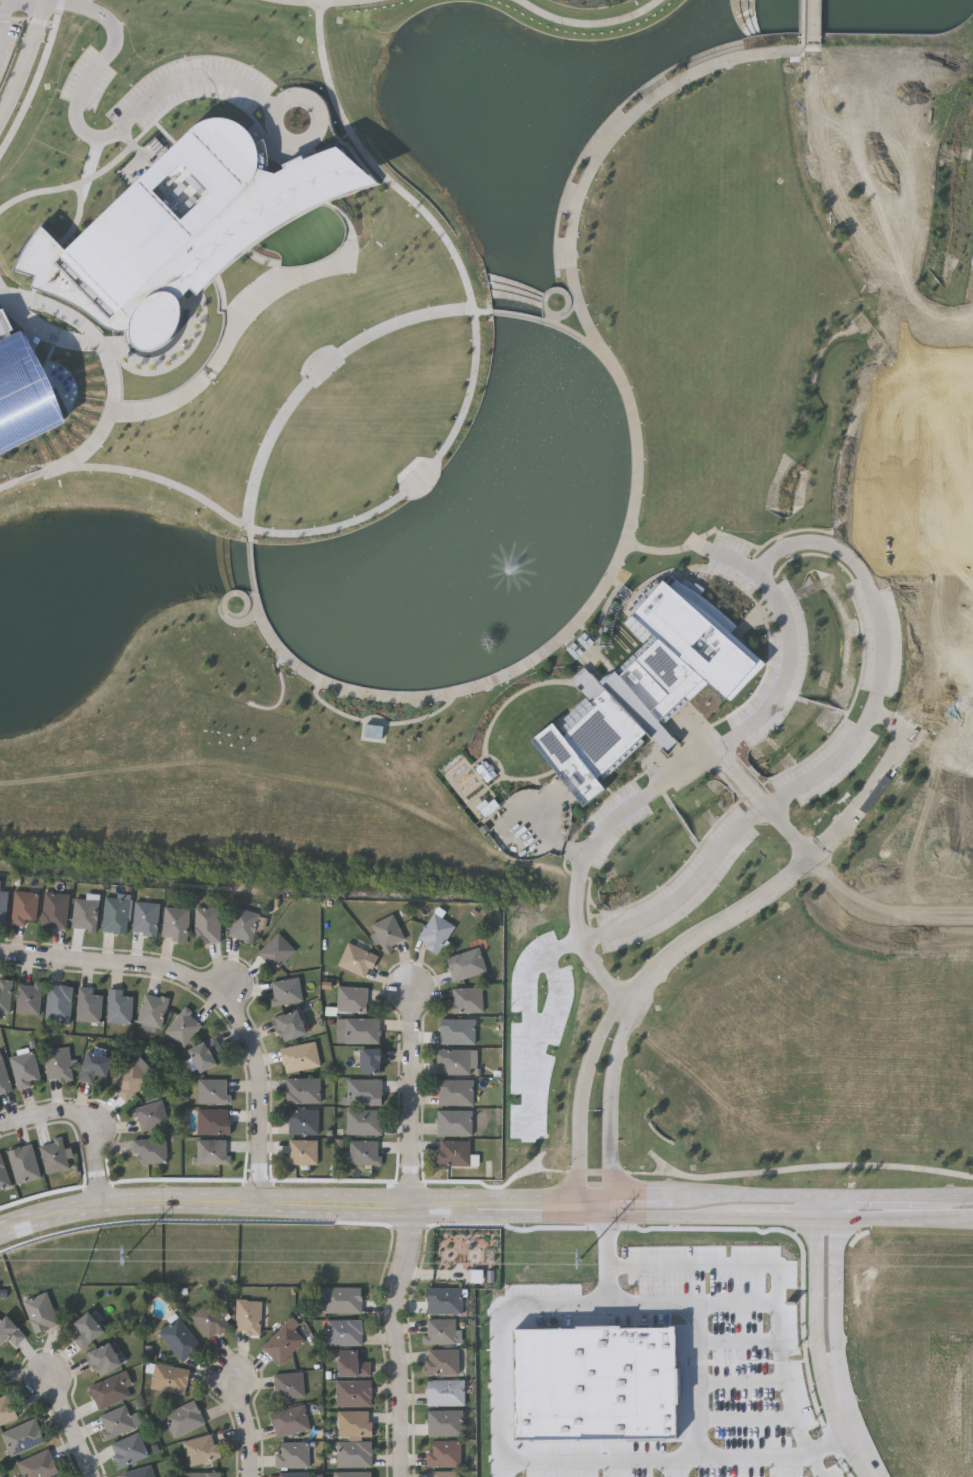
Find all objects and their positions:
road: (21, 6)
road: (3, 18)
parking lot: (10, 28)
road: (813, 28)
road: (24, 59)
road: (88, 135)
road: (837, 196)
building: (182, 225)
road: (573, 269)
road: (944, 322)
road: (104, 363)
water park: (23, 389)
building: (25, 390)
road: (794, 540)
road: (738, 560)
road: (947, 598)
road: (948, 673)
building: (646, 685)
road: (891, 717)
road: (940, 744)
building: (481, 771)
road: (742, 777)
road: (786, 831)
road: (831, 832)
building: (3, 905)
building: (25, 907)
building: (55, 910)
building: (85, 913)
road: (878, 913)
building: (116, 915)
building: (146, 918)
building: (175, 923)
building: (244, 924)
building: (208, 925)
building: (387, 932)
building: (435, 933)
building: (277, 951)
building: (358, 960)
road: (98, 963)
building: (466, 964)
building: (286, 991)
building: (5, 996)
building: (29, 999)
building: (353, 999)
building: (468, 1000)
building: (60, 1003)
building: (89, 1005)
building: (119, 1007)
building: (152, 1013)
building: (292, 1025)
building: (184, 1026)
building: (359, 1030)
building: (458, 1031)
building: (206, 1053)
building: (301, 1057)
building: (372, 1060)
building: (454, 1062)
building: (57, 1064)
building: (95, 1067)
building: (24, 1069)
building: (3, 1076)
building: (132, 1078)
road: (257, 1084)
building: (302, 1090)
building: (213, 1091)
building: (364, 1091)
building: (455, 1091)
road: (413, 1094)
road: (581, 1099)
road: (610, 1106)
building: (150, 1115)
building: (213, 1120)
building: (302, 1121)
building: (363, 1122)
building: (454, 1122)
road: (84, 1123)
building: (150, 1150)
building: (212, 1151)
building: (302, 1151)
building: (363, 1153)
building: (452, 1153)
building: (54, 1156)
building: (23, 1164)
building: (2, 1172)
road: (484, 1195)
road: (827, 1212)
road: (484, 1217)
power tower: (126, 1258)
power tower: (582, 1261)
road: (776, 1278)
road: (836, 1293)
road: (815, 1294)
building: (341, 1300)
building: (444, 1301)
road: (736, 1305)
building: (40, 1312)
building: (247, 1317)
building: (208, 1319)
building: (87, 1330)
building: (439, 1331)
building: (10, 1332)
building: (344, 1332)
road: (400, 1336)
building: (179, 1339)
road: (696, 1339)
road: (737, 1340)
building: (282, 1343)
building: (104, 1359)
building: (441, 1362)
building: (352, 1365)
building: (169, 1379)
building: (596, 1383)
road: (740, 1383)
building: (287, 1385)
building: (110, 1390)
building: (444, 1392)
building: (352, 1393)
building: (5, 1410)
building: (183, 1418)
road: (746, 1419)
building: (289, 1421)
building: (115, 1422)
road: (847, 1422)
road: (69, 1423)
building: (354, 1423)
building: (444, 1423)
road: (248, 1431)
building: (22, 1437)
building: (200, 1449)
building: (128, 1450)
building: (443, 1453)
building: (354, 1454)
building: (291, 1455)
road: (503, 1461)
building: (38, 1465)
road: (815, 1465)
road: (675, 1468)
road: (502, 1469)
building: (138, 1472)
building: (201, 1474)
building: (291, 1474)
building: (352, 1474)
building: (443, 1474)

